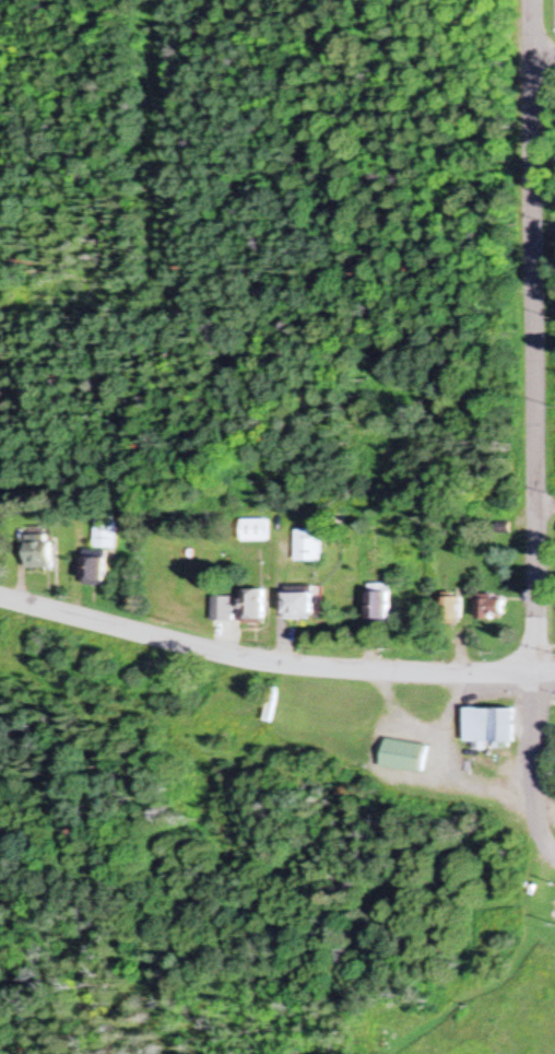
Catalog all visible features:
road: (526, 422)
road: (540, 506)
building: (252, 530)
building: (103, 534)
building: (306, 547)
building: (35, 553)
building: (91, 571)
building: (295, 602)
building: (375, 604)
building: (236, 607)
building: (488, 609)
building: (450, 611)
road: (259, 660)
road: (541, 676)
building: (487, 726)
building: (404, 754)

